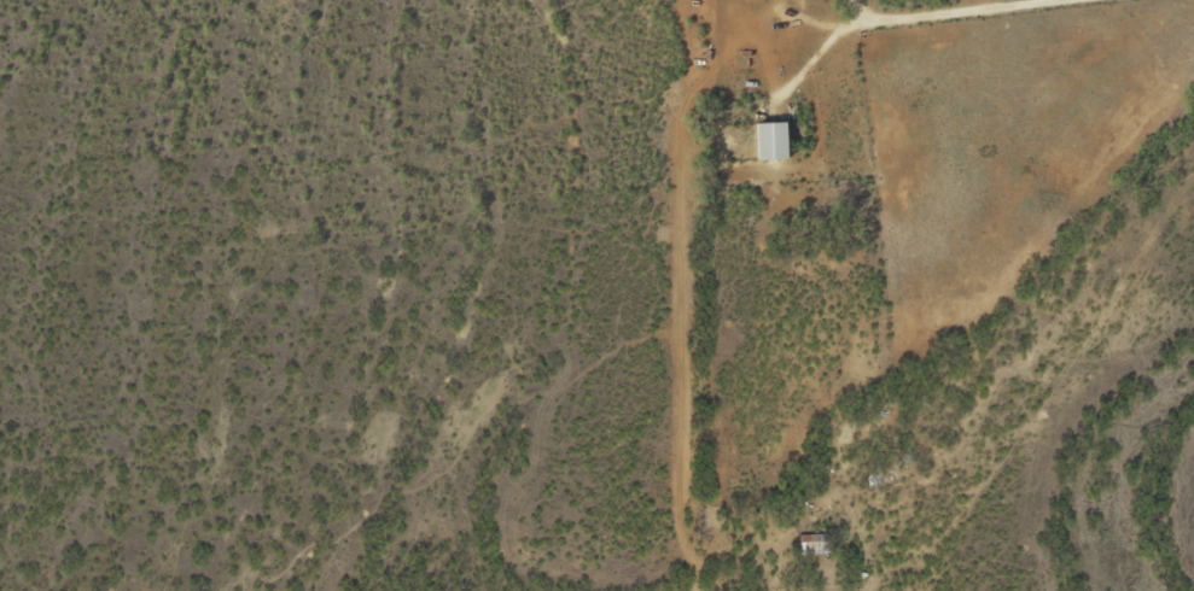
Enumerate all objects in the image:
road: (953, 11)
building: (765, 141)
building: (810, 544)

